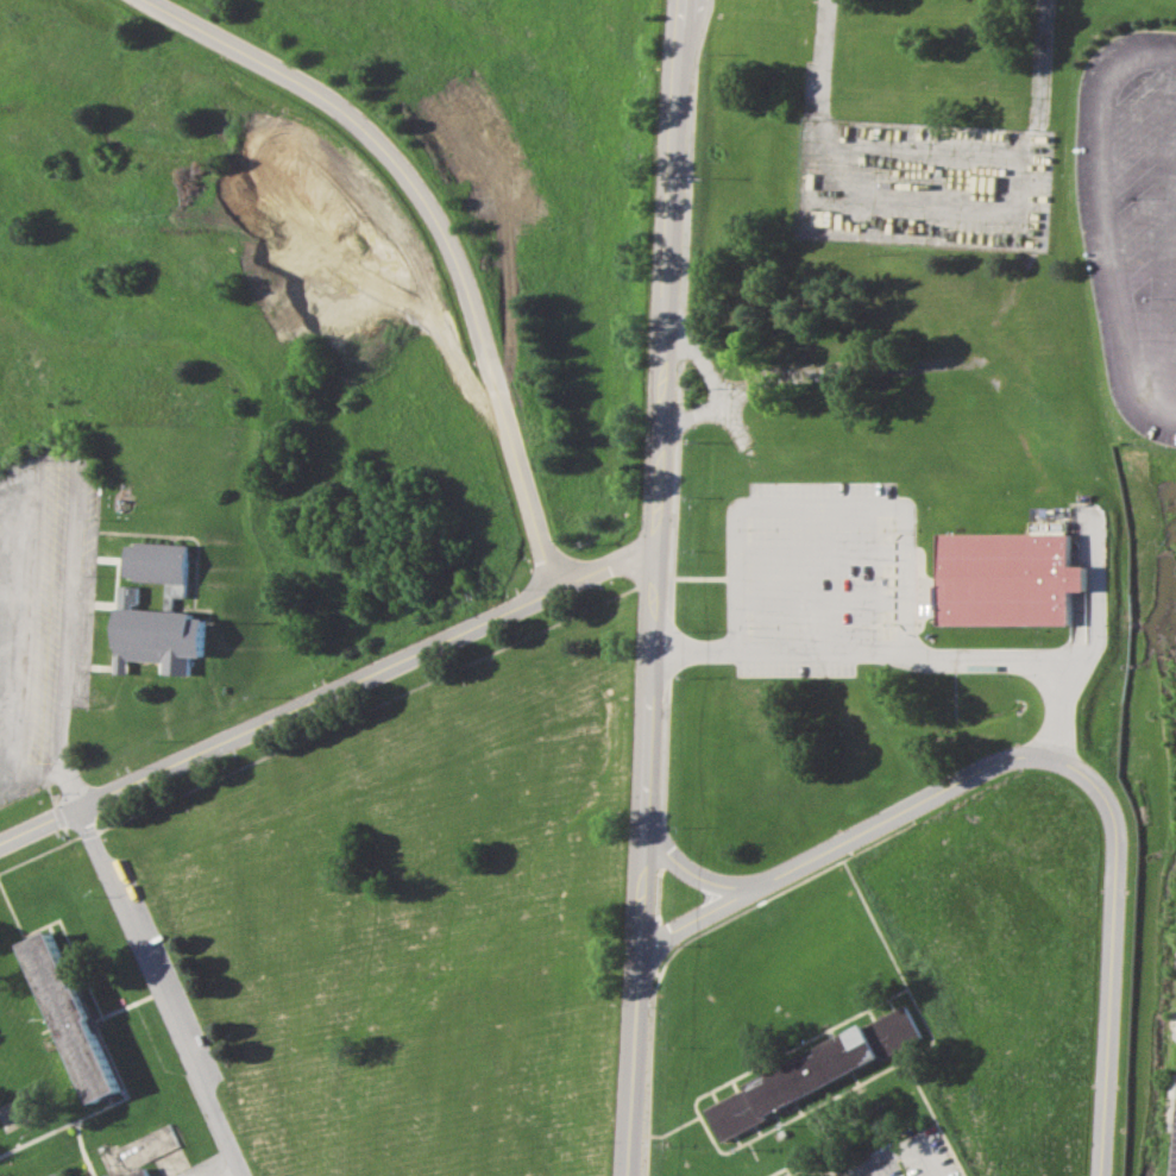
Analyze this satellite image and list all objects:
road: (1109, 210)
parking lot: (1130, 210)
road: (438, 228)
building: (158, 565)
building: (1007, 579)
road: (658, 587)
parking lot: (874, 593)
road: (64, 623)
building: (153, 636)
road: (900, 655)
road: (458, 660)
road: (328, 690)
road: (1050, 756)
road: (46, 766)
road: (181, 786)
road: (42, 850)
road: (690, 869)
road: (59, 927)
road: (688, 937)
road: (158, 991)
road: (137, 999)
road: (891, 1005)
road: (870, 1014)
building: (70, 1020)
road: (829, 1034)
road: (929, 1044)
road: (912, 1049)
road: (894, 1058)
road: (171, 1070)
building: (811, 1073)
road: (853, 1078)
road: (728, 1080)
road: (734, 1086)
road: (712, 1096)
road: (111, 1102)
road: (933, 1117)
road: (776, 1119)
parking lot: (1170, 1121)
road: (673, 1127)
road: (756, 1130)
road: (25, 1140)
road: (736, 1140)
road: (906, 1146)
road: (220, 1157)
road: (754, 1158)
parking lot: (908, 1158)
parking lot: (201, 1168)
road: (780, 1168)
road: (816, 1170)
building: (137, 1172)
building: (50, 1174)
building: (55, 1175)
building: (103, 1175)
building: (108, 1175)
building: (779, 1175)

